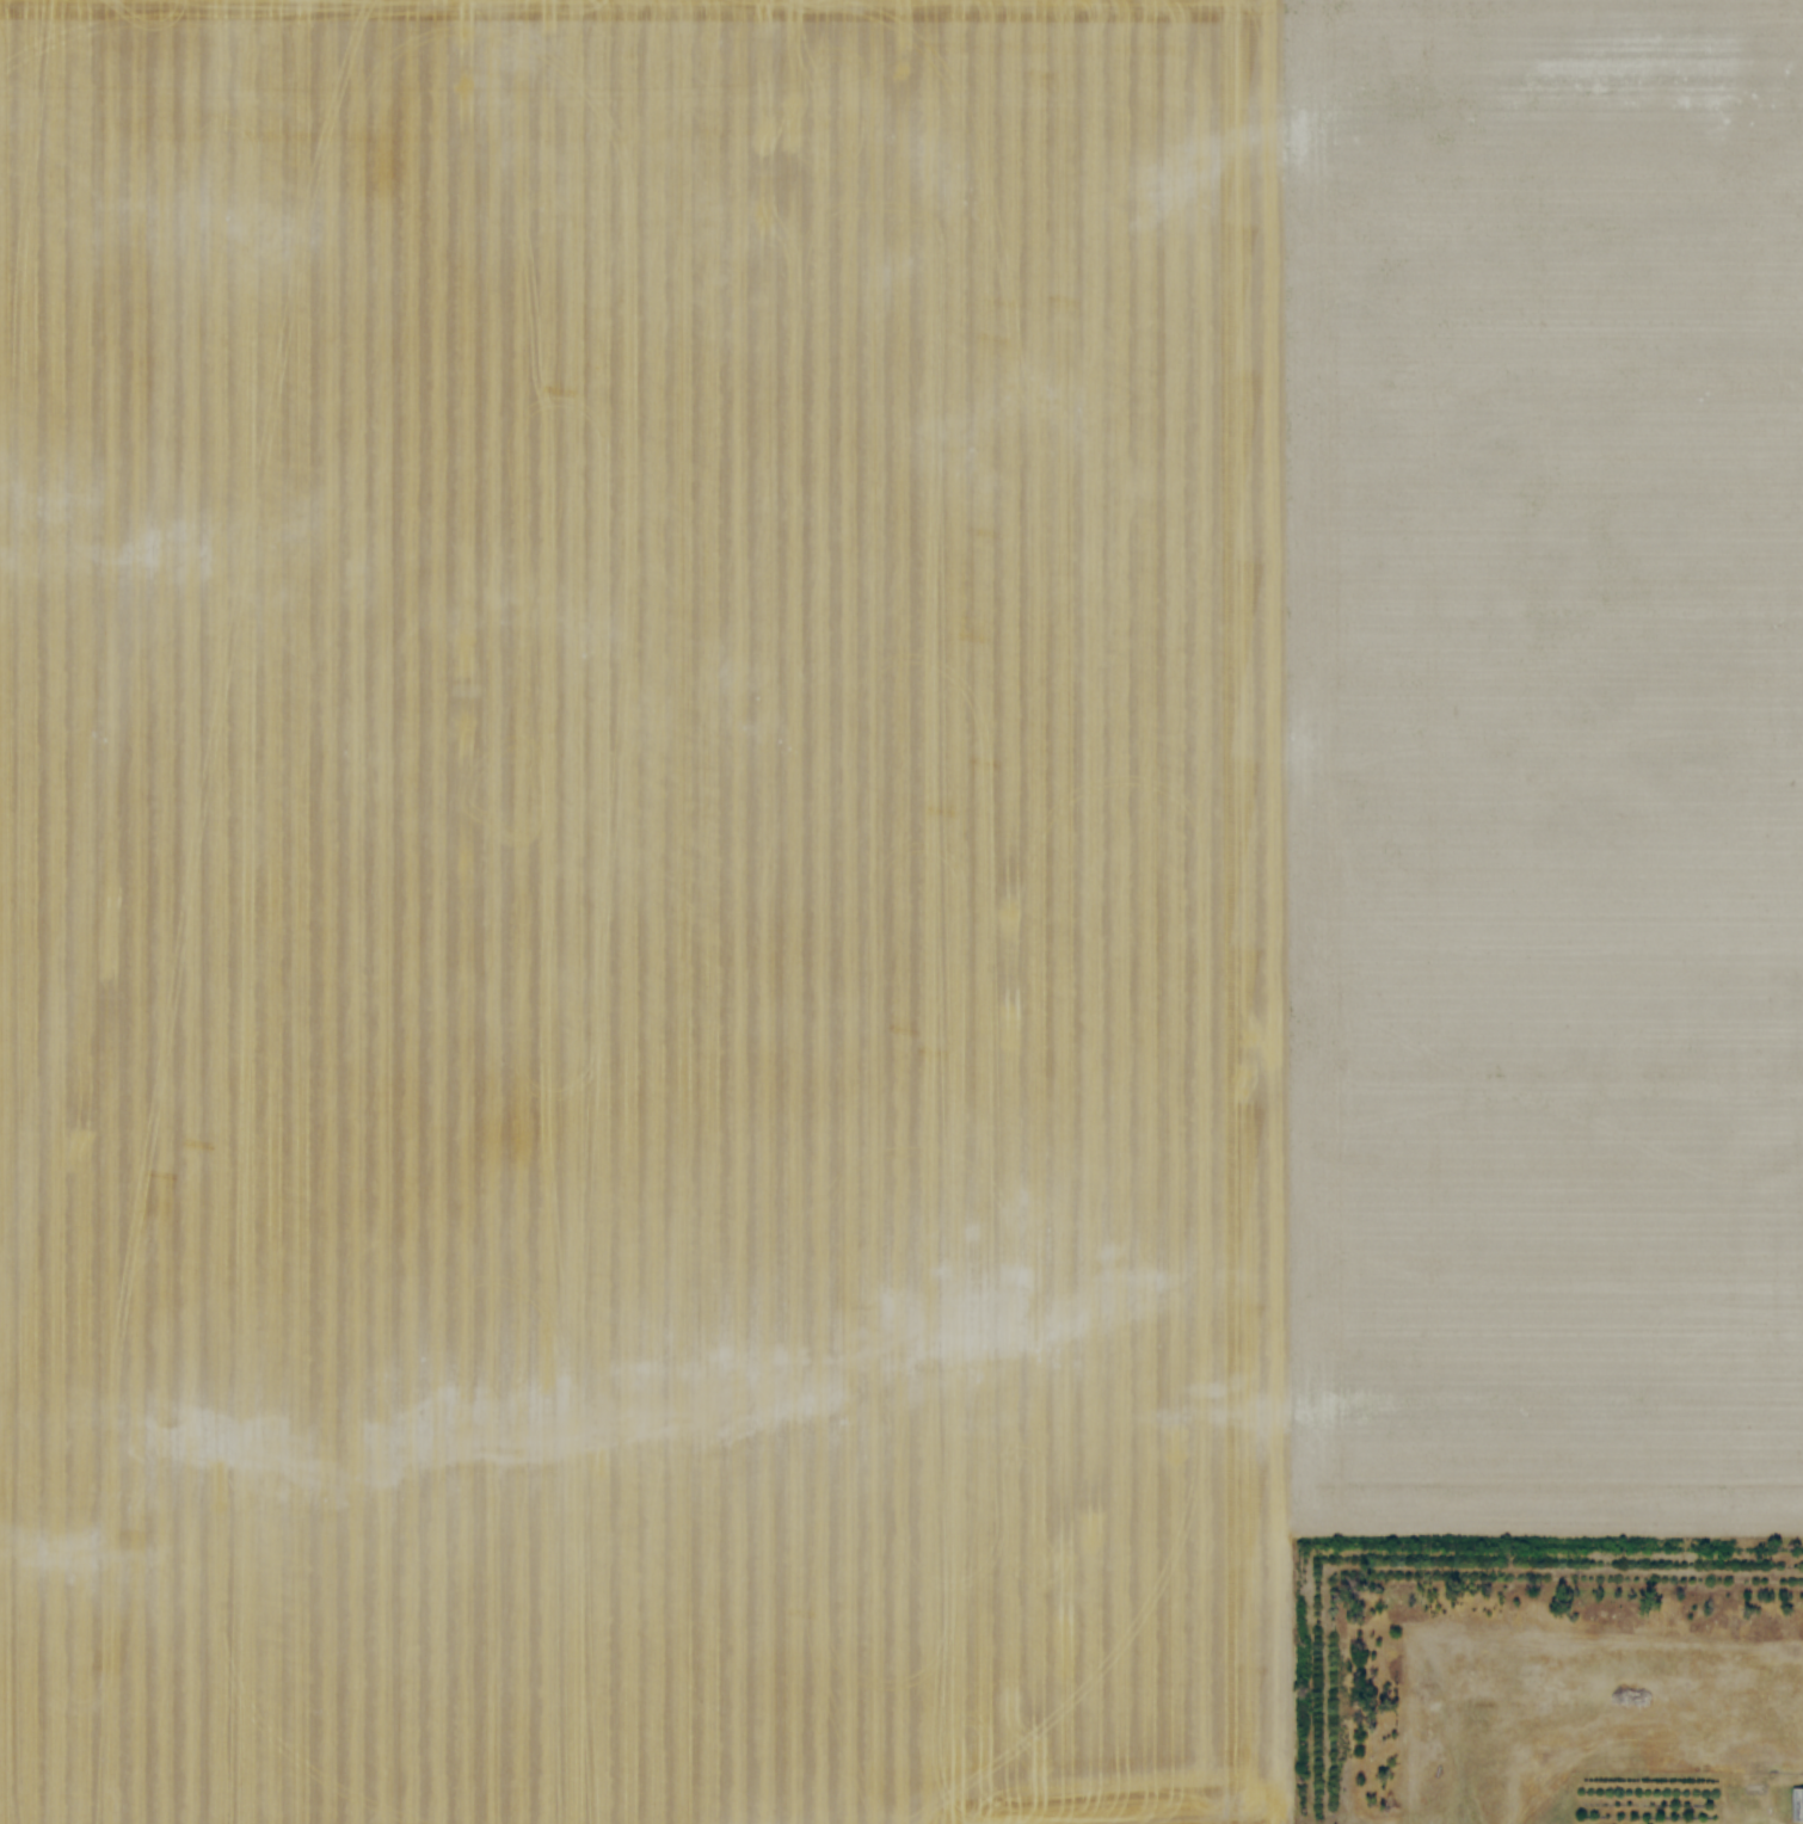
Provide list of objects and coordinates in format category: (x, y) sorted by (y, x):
crop: (872, 876)
building: (1797, 1806)

